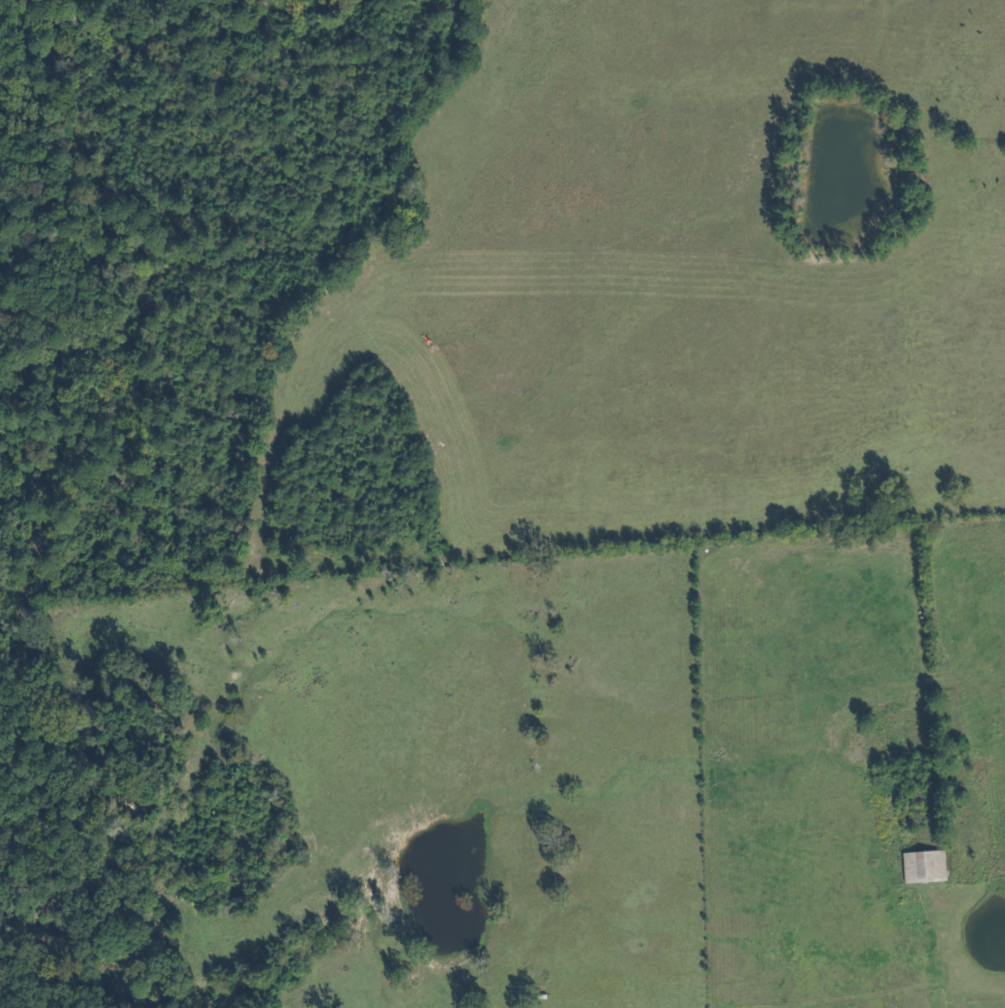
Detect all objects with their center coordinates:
building: (922, 866)

